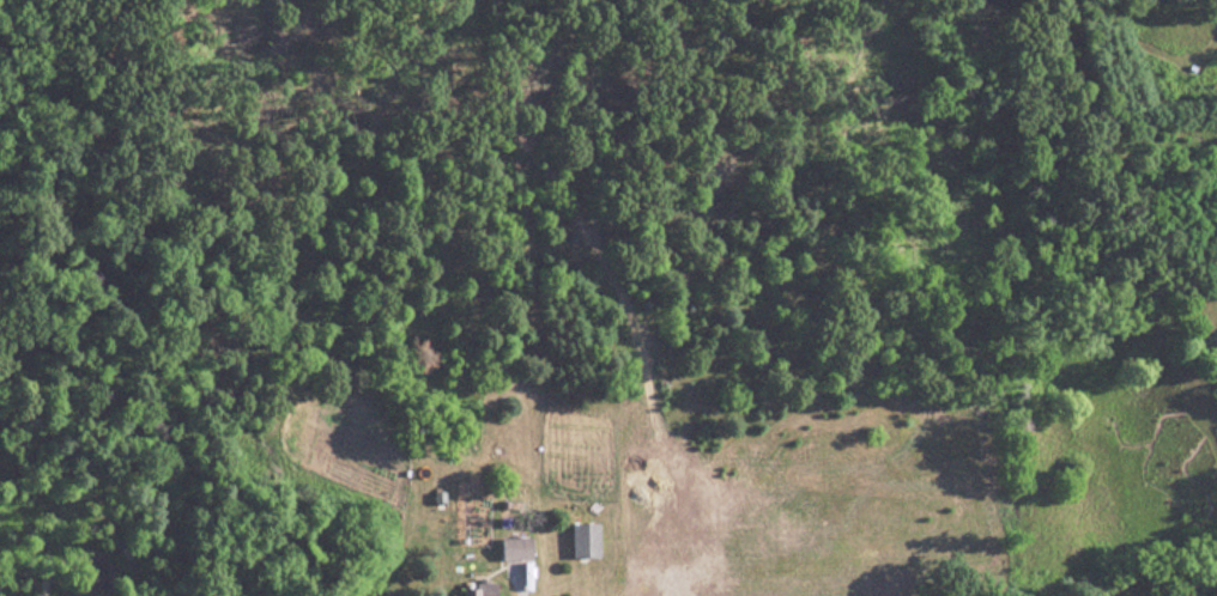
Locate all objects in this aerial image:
building: (587, 541)
building: (519, 548)
building: (483, 589)

